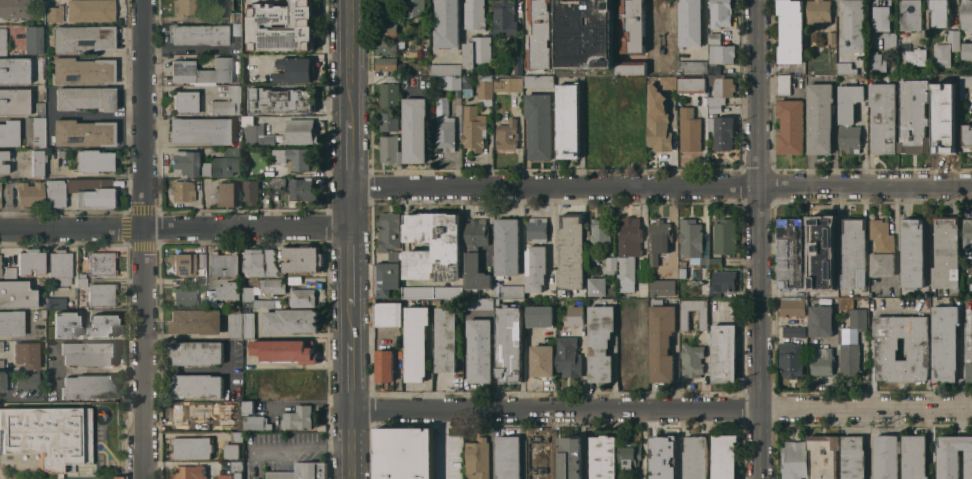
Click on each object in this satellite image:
building: (386, 0)
building: (221, 5)
building: (185, 7)
building: (14, 8)
building: (414, 8)
building: (80, 10)
building: (386, 12)
building: (818, 12)
building: (720, 13)
building: (939, 13)
building: (474, 15)
building: (566, 15)
building: (910, 15)
building: (966, 15)
building: (235, 17)
building: (504, 17)
building: (658, 21)
building: (884, 21)
building: (690, 23)
building: (446, 24)
building: (633, 25)
building: (281, 26)
building: (852, 26)
building: (237, 29)
building: (386, 29)
building: (598, 31)
building: (790, 31)
building: (933, 31)
building: (198, 34)
building: (714, 37)
building: (82, 38)
building: (539, 38)
building: (953, 38)
road: (970, 38)
building: (32, 39)
building: (831, 39)
building: (2, 41)
building: (425, 41)
road: (838, 45)
building: (387, 46)
road: (185, 47)
building: (579, 48)
building: (967, 50)
building: (476, 51)
building: (941, 55)
building: (719, 56)
building: (915, 56)
road: (350, 59)
building: (876, 62)
building: (386, 63)
building: (563, 64)
building: (518, 65)
building: (692, 66)
building: (631, 67)
building: (844, 68)
building: (446, 69)
building: (294, 70)
building: (14, 71)
building: (83, 71)
building: (201, 71)
building: (589, 72)
building: (966, 80)
building: (418, 81)
building: (538, 81)
building: (668, 81)
building: (450, 82)
building: (507, 84)
building: (783, 84)
building: (692, 85)
road: (175, 86)
building: (467, 86)
building: (936, 86)
building: (484, 87)
building: (604, 88)
building: (720, 88)
building: (389, 91)
building: (634, 94)
building: (84, 98)
building: (280, 100)
building: (13, 101)
building: (184, 101)
building: (227, 102)
building: (39, 108)
building: (715, 108)
road: (86, 115)
building: (913, 116)
building: (623, 117)
building: (819, 117)
building: (849, 117)
building: (883, 117)
building: (567, 120)
building: (657, 120)
building: (389, 121)
building: (539, 125)
building: (444, 126)
building: (790, 126)
building: (473, 128)
building: (598, 129)
building: (689, 129)
building: (201, 130)
building: (414, 130)
building: (946, 130)
building: (298, 131)
building: (83, 132)
building: (255, 132)
building: (9, 133)
building: (37, 133)
building: (723, 133)
building: (506, 135)
building: (629, 137)
building: (966, 137)
road: (520, 138)
road: (175, 144)
building: (389, 149)
building: (61, 153)
road: (350, 153)
building: (293, 158)
building: (0, 161)
building: (93, 161)
building: (225, 162)
building: (36, 163)
building: (188, 163)
building: (274, 170)
building: (274, 182)
road: (660, 185)
building: (302, 189)
building: (181, 191)
building: (250, 191)
building: (78, 193)
building: (30, 194)
building: (227, 194)
road: (350, 206)
road: (489, 225)
road: (175, 228)
building: (536, 229)
building: (389, 231)
building: (967, 233)
building: (599, 234)
building: (817, 234)
building: (724, 235)
road: (145, 239)
building: (658, 239)
building: (691, 239)
road: (759, 239)
building: (433, 246)
building: (506, 246)
building: (881, 249)
building: (571, 251)
building: (790, 252)
building: (853, 253)
building: (912, 253)
building: (946, 253)
building: (475, 254)
building: (629, 254)
building: (590, 255)
building: (302, 259)
building: (201, 260)
building: (30, 261)
building: (714, 261)
building: (0, 262)
building: (253, 262)
building: (101, 263)
building: (182, 263)
building: (271, 264)
building: (224, 265)
road: (350, 265)
building: (609, 265)
building: (60, 266)
building: (535, 268)
building: (0, 272)
building: (9, 272)
building: (681, 273)
building: (387, 274)
building: (81, 275)
building: (199, 280)
building: (81, 282)
building: (722, 282)
building: (970, 285)
building: (596, 286)
building: (662, 287)
building: (822, 287)
building: (228, 290)
building: (508, 291)
building: (275, 292)
building: (432, 292)
building: (16, 294)
building: (101, 295)
building: (184, 296)
building: (302, 297)
building: (210, 299)
building: (436, 301)
building: (55, 303)
building: (478, 303)
building: (841, 303)
building: (792, 307)
building: (41, 313)
building: (50, 313)
building: (388, 313)
building: (641, 313)
building: (539, 316)
building: (574, 316)
building: (857, 319)
building: (290, 320)
building: (684, 320)
building: (820, 320)
building: (98, 321)
building: (195, 321)
building: (790, 322)
building: (11, 323)
building: (248, 324)
building: (236, 325)
building: (57, 328)
building: (793, 332)
road: (184, 335)
building: (446, 339)
building: (508, 341)
building: (661, 341)
building: (416, 343)
building: (599, 343)
building: (916, 343)
building: (944, 343)
building: (1, 346)
building: (969, 346)
building: (285, 350)
building: (479, 350)
building: (196, 352)
building: (88, 353)
building: (724, 353)
building: (26, 354)
building: (400, 354)
building: (629, 354)
building: (568, 357)
road: (350, 358)
building: (692, 359)
building: (790, 359)
building: (849, 359)
building: (542, 360)
building: (821, 361)
building: (1, 365)
road: (297, 365)
building: (383, 365)
road: (57, 370)
road: (102, 371)
road: (188, 371)
building: (27, 380)
building: (292, 380)
building: (2, 382)
building: (196, 385)
building: (88, 386)
building: (250, 391)
road: (312, 402)
building: (248, 407)
road: (660, 407)
building: (226, 412)
building: (184, 413)
building: (298, 417)
building: (256, 423)
building: (236, 428)
building: (49, 436)
building: (236, 436)
road: (349, 444)
building: (191, 447)
road: (304, 447)
building: (231, 450)
building: (404, 453)
building: (628, 454)
building: (823, 455)
building: (953, 456)
building: (507, 457)
building: (570, 457)
building: (602, 457)
building: (695, 457)
building: (724, 457)
building: (852, 457)
building: (886, 457)
building: (914, 457)
building: (477, 458)
building: (662, 460)
building: (794, 460)
building: (538, 461)
building: (277, 462)
building: (230, 470)
building: (187, 472)

